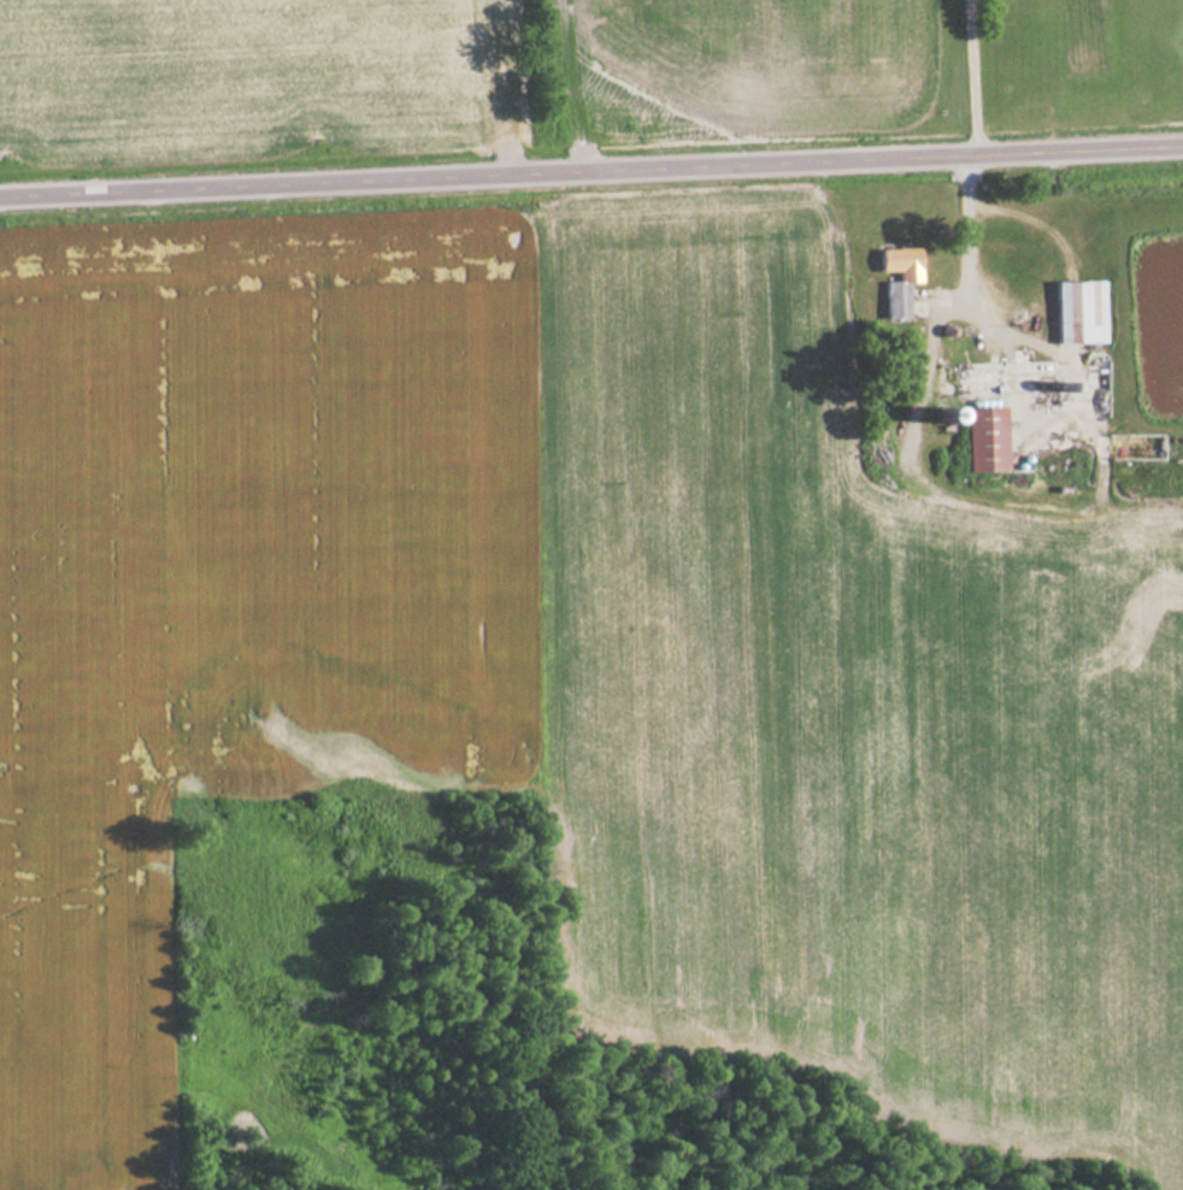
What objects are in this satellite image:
road: (591, 179)
building: (897, 279)
building: (1079, 312)
building: (1005, 378)
building: (985, 440)

